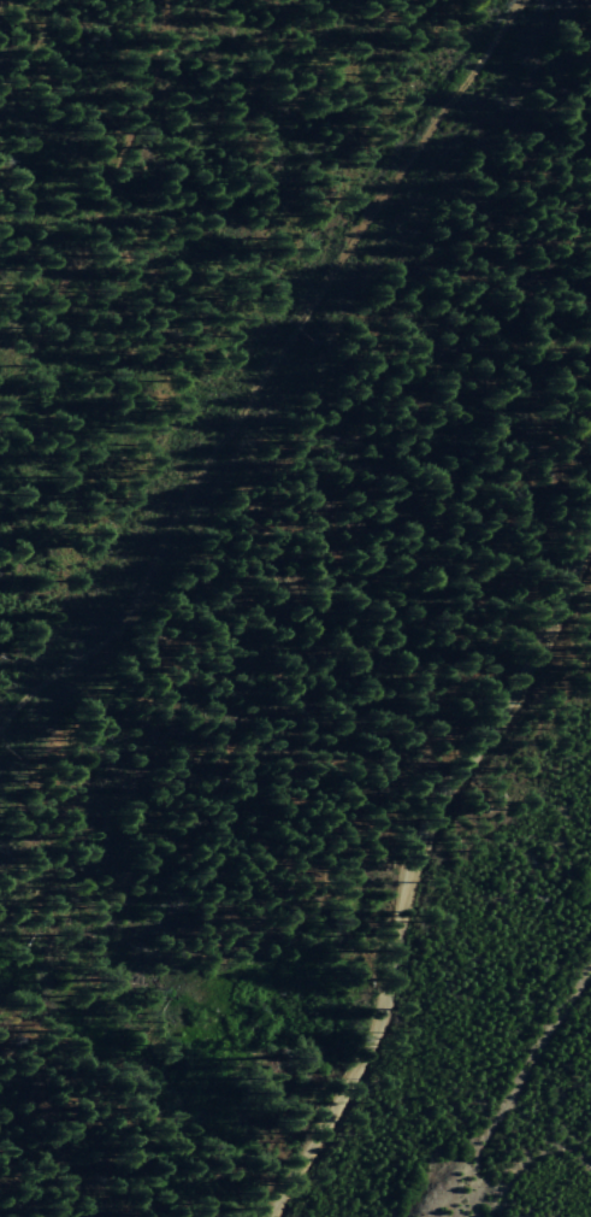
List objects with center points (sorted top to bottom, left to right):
road: (277, 389)
road: (416, 869)

